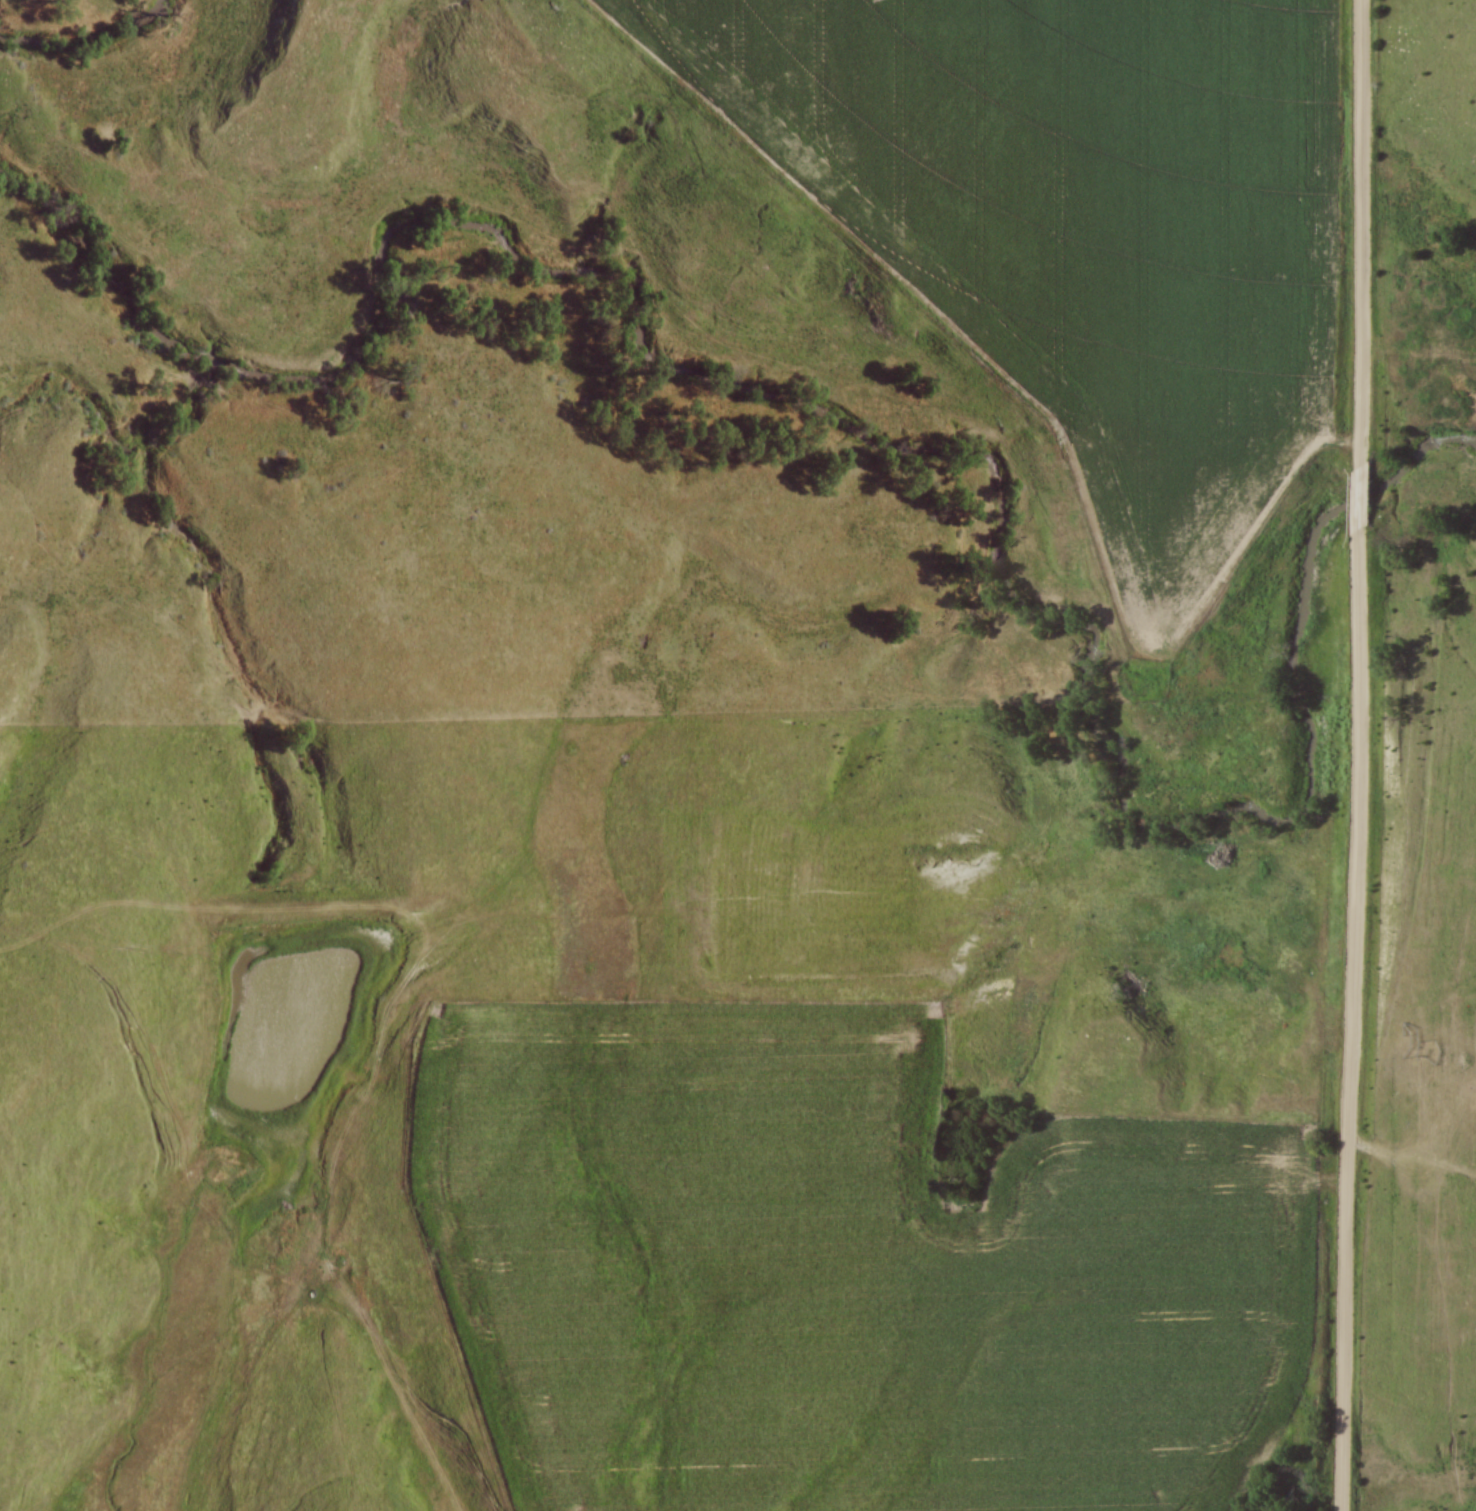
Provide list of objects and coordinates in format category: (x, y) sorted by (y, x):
road: (1361, 755)

